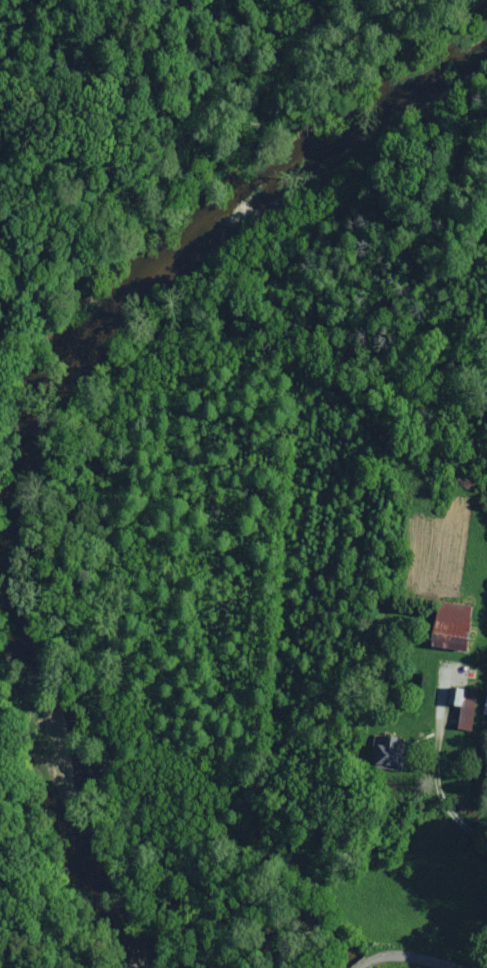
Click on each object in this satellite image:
building: (456, 641)
building: (466, 706)
building: (391, 754)
road: (444, 796)
road: (397, 954)

